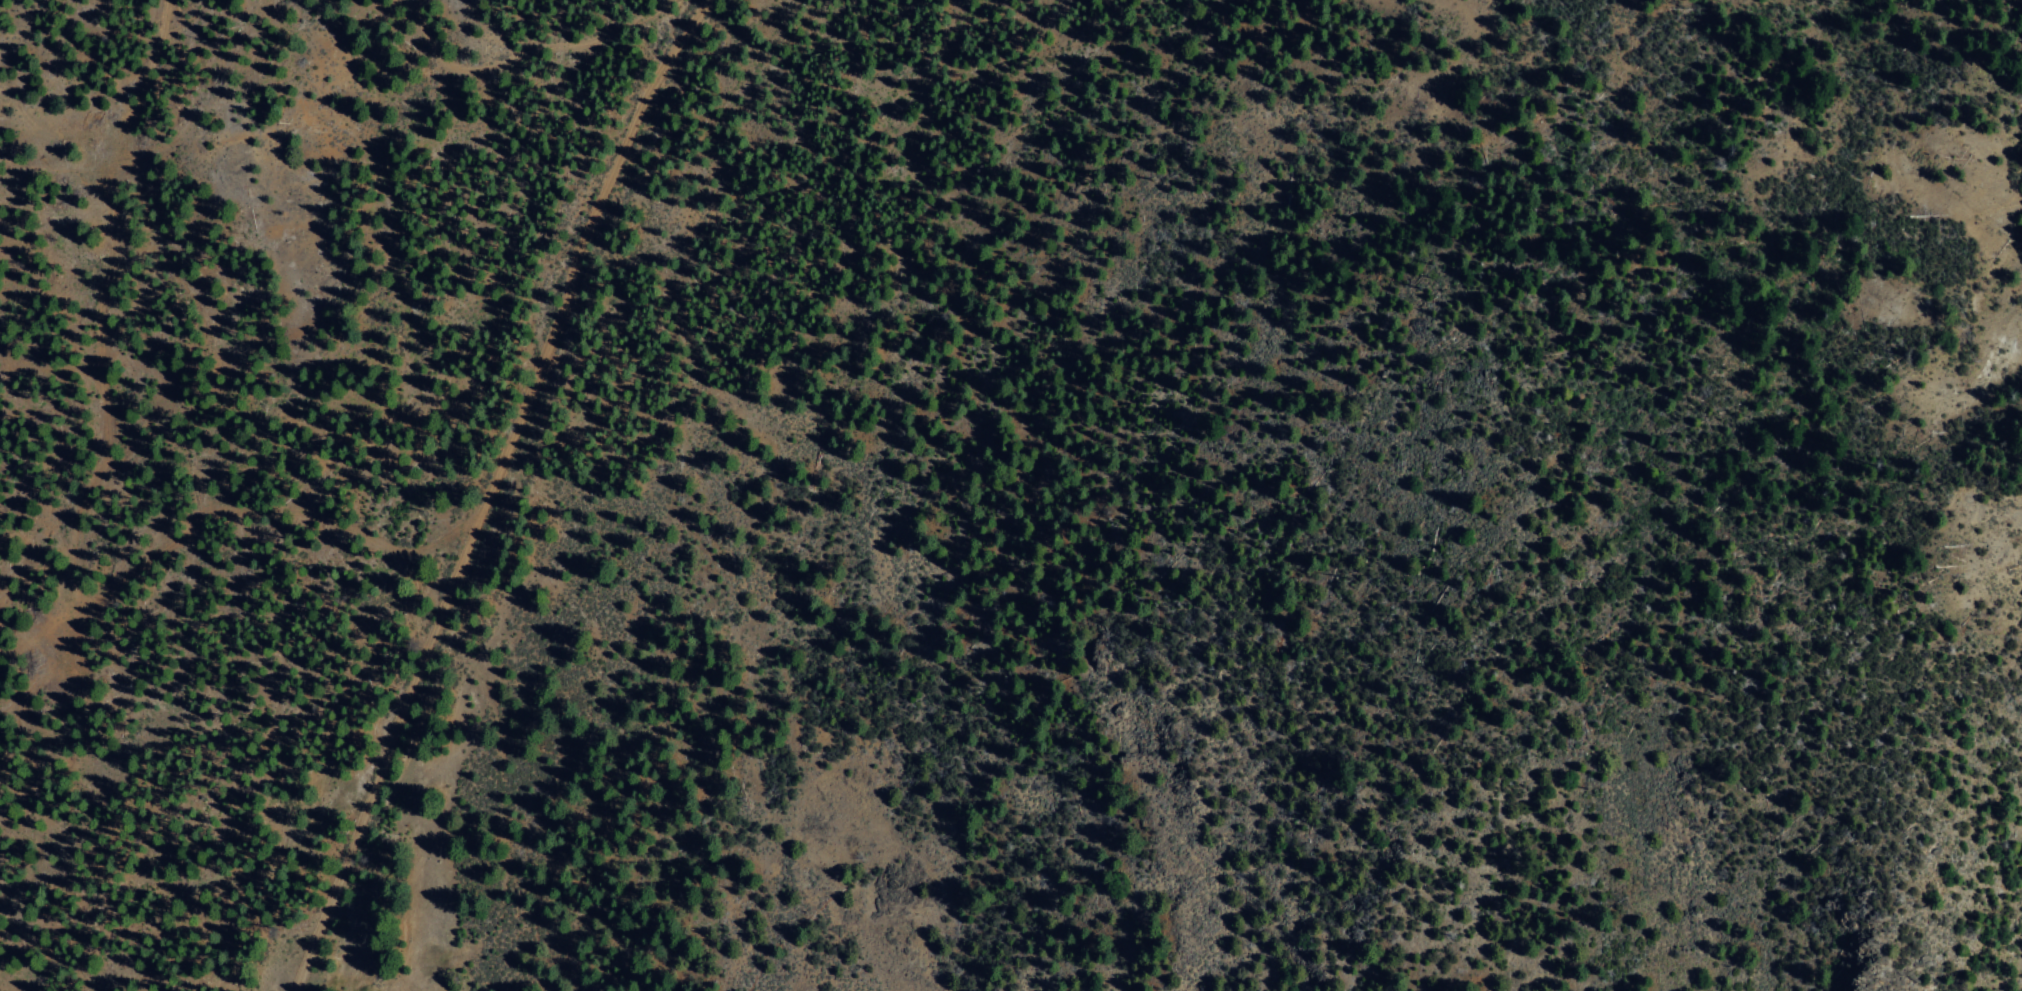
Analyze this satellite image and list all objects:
road: (483, 489)

